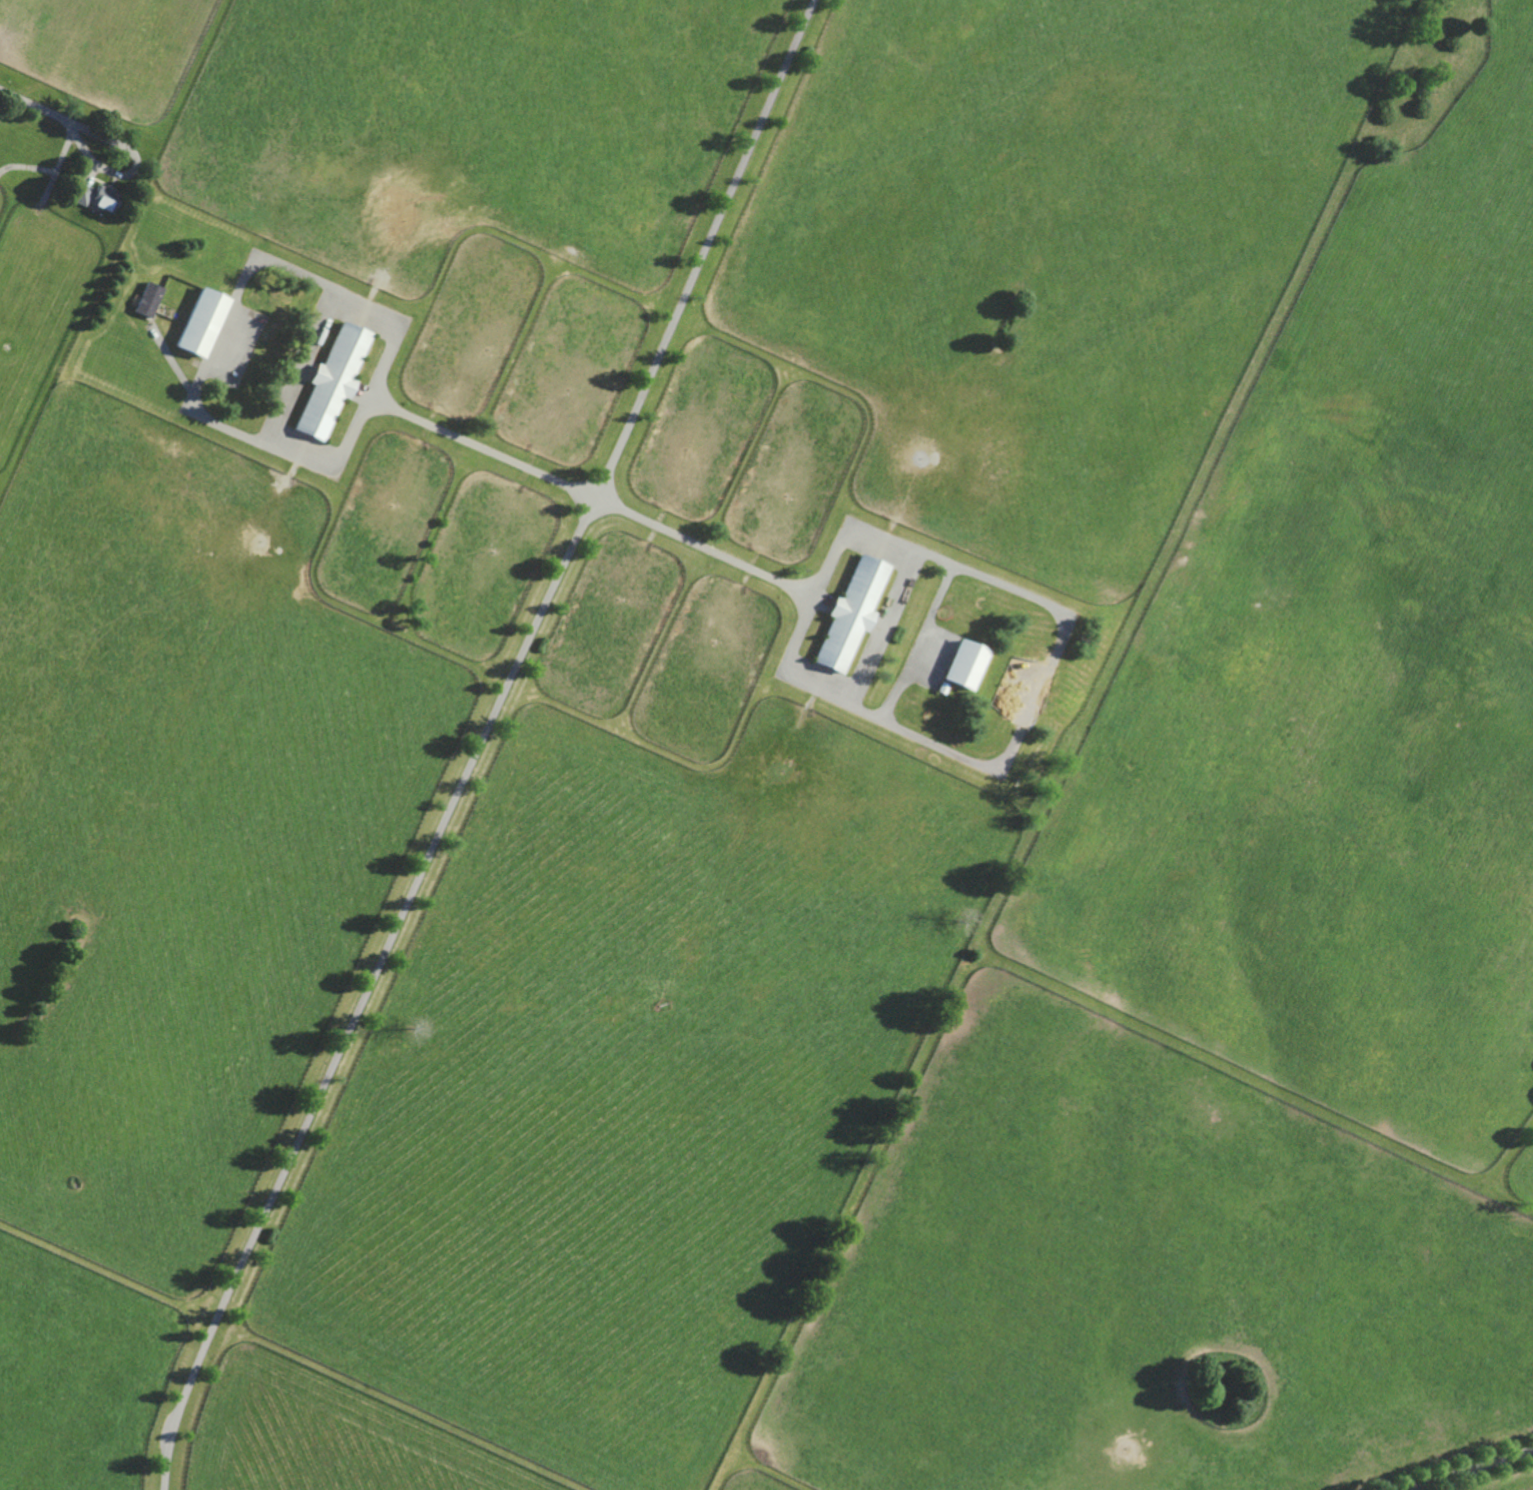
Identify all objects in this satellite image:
road: (32, 105)
road: (135, 171)
building: (94, 194)
building: (148, 298)
building: (200, 320)
road: (220, 328)
building: (332, 380)
road: (480, 447)
road: (699, 544)
building: (849, 613)
building: (963, 664)
building: (940, 687)
road: (481, 742)
road: (1477, 1470)

